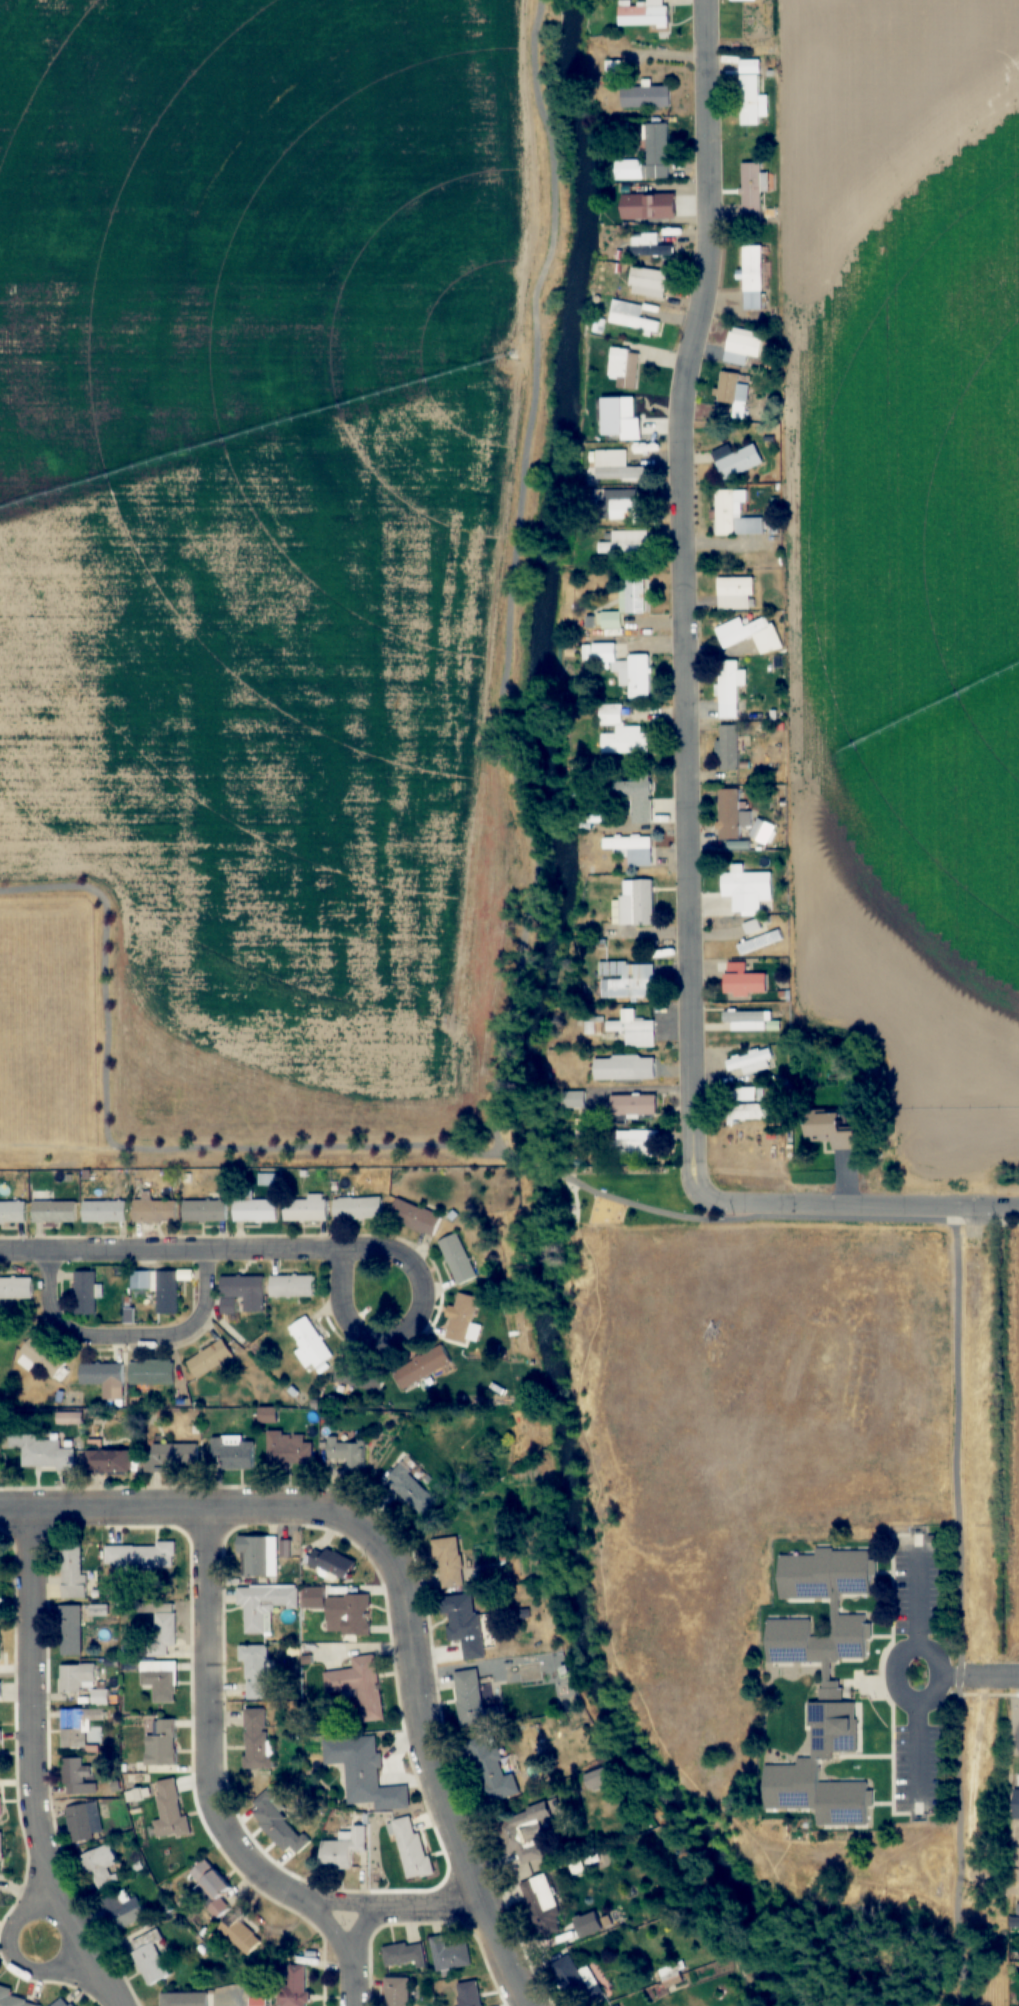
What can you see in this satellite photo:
building: (743, 0)
building: (643, 15)
building: (645, 97)
building: (751, 101)
building: (646, 156)
building: (752, 187)
building: (650, 206)
building: (649, 246)
building: (755, 280)
building: (648, 283)
building: (631, 317)
building: (742, 346)
building: (624, 367)
building: (733, 393)
building: (736, 461)
building: (614, 467)
building: (626, 506)
crop: (258, 512)
building: (733, 515)
building: (623, 543)
crop: (897, 553)
road: (513, 576)
road: (682, 591)
building: (734, 593)
building: (633, 595)
building: (748, 635)
building: (624, 670)
building: (728, 690)
building: (620, 734)
building: (728, 749)
building: (636, 798)
building: (729, 813)
building: (763, 831)
building: (630, 849)
building: (744, 887)
building: (635, 903)
building: (760, 942)
building: (627, 979)
building: (744, 983)
park: (47, 1020)
building: (744, 1020)
river: (546, 1022)
building: (624, 1029)
building: (751, 1061)
building: (624, 1068)
building: (743, 1094)
building: (572, 1100)
building: (634, 1105)
building: (747, 1111)
building: (582, 1128)
building: (829, 1131)
building: (632, 1146)
road: (143, 1150)
road: (545, 1168)
building: (358, 1208)
road: (854, 1208)
building: (306, 1209)
building: (255, 1210)
building: (104, 1211)
building: (154, 1211)
building: (205, 1211)
building: (13, 1212)
building: (54, 1212)
building: (415, 1218)
road: (195, 1251)
road: (25, 1252)
road: (398, 1252)
building: (457, 1259)
building: (292, 1286)
building: (16, 1288)
building: (159, 1288)
building: (85, 1293)
building: (242, 1294)
building: (461, 1318)
road: (127, 1337)
building: (311, 1345)
building: (210, 1358)
building: (41, 1359)
building: (421, 1366)
building: (151, 1373)
building: (357, 1373)
building: (104, 1379)
road: (957, 1415)
building: (288, 1449)
building: (46, 1453)
building: (232, 1453)
building: (345, 1453)
building: (172, 1457)
building: (110, 1460)
building: (410, 1489)
building: (259, 1556)
building: (143, 1559)
building: (331, 1562)
building: (449, 1562)
building: (73, 1571)
road: (403, 1586)
building: (265, 1605)
building: (348, 1614)
building: (465, 1625)
building: (159, 1627)
building: (71, 1630)
building: (255, 1670)
road: (896, 1674)
road: (982, 1676)
building: (160, 1680)
building: (82, 1681)
building: (819, 1681)
building: (358, 1686)
building: (0, 1691)
building: (469, 1696)
building: (79, 1725)
building: (257, 1740)
building: (162, 1743)
road: (33, 1745)
building: (363, 1772)
building: (493, 1773)
building: (75, 1776)
road: (211, 1784)
building: (170, 1811)
building: (84, 1822)
building: (276, 1826)
building: (529, 1832)
building: (343, 1848)
building: (412, 1850)
building: (0, 1853)
building: (100, 1866)
building: (211, 1885)
building: (541, 1902)
road: (387, 1907)
building: (123, 1909)
road: (364, 1928)
building: (238, 1933)
building: (147, 1954)
building: (403, 1954)
building: (449, 1954)
road: (13, 1957)
building: (671, 1977)
building: (576, 1980)
building: (294, 1984)
road: (105, 1988)
building: (397, 1991)
building: (469, 1993)
building: (13, 1999)
building: (184, 1999)
building: (258, 2002)
building: (66, 2003)
road: (244, 2003)
building: (618, 2005)

